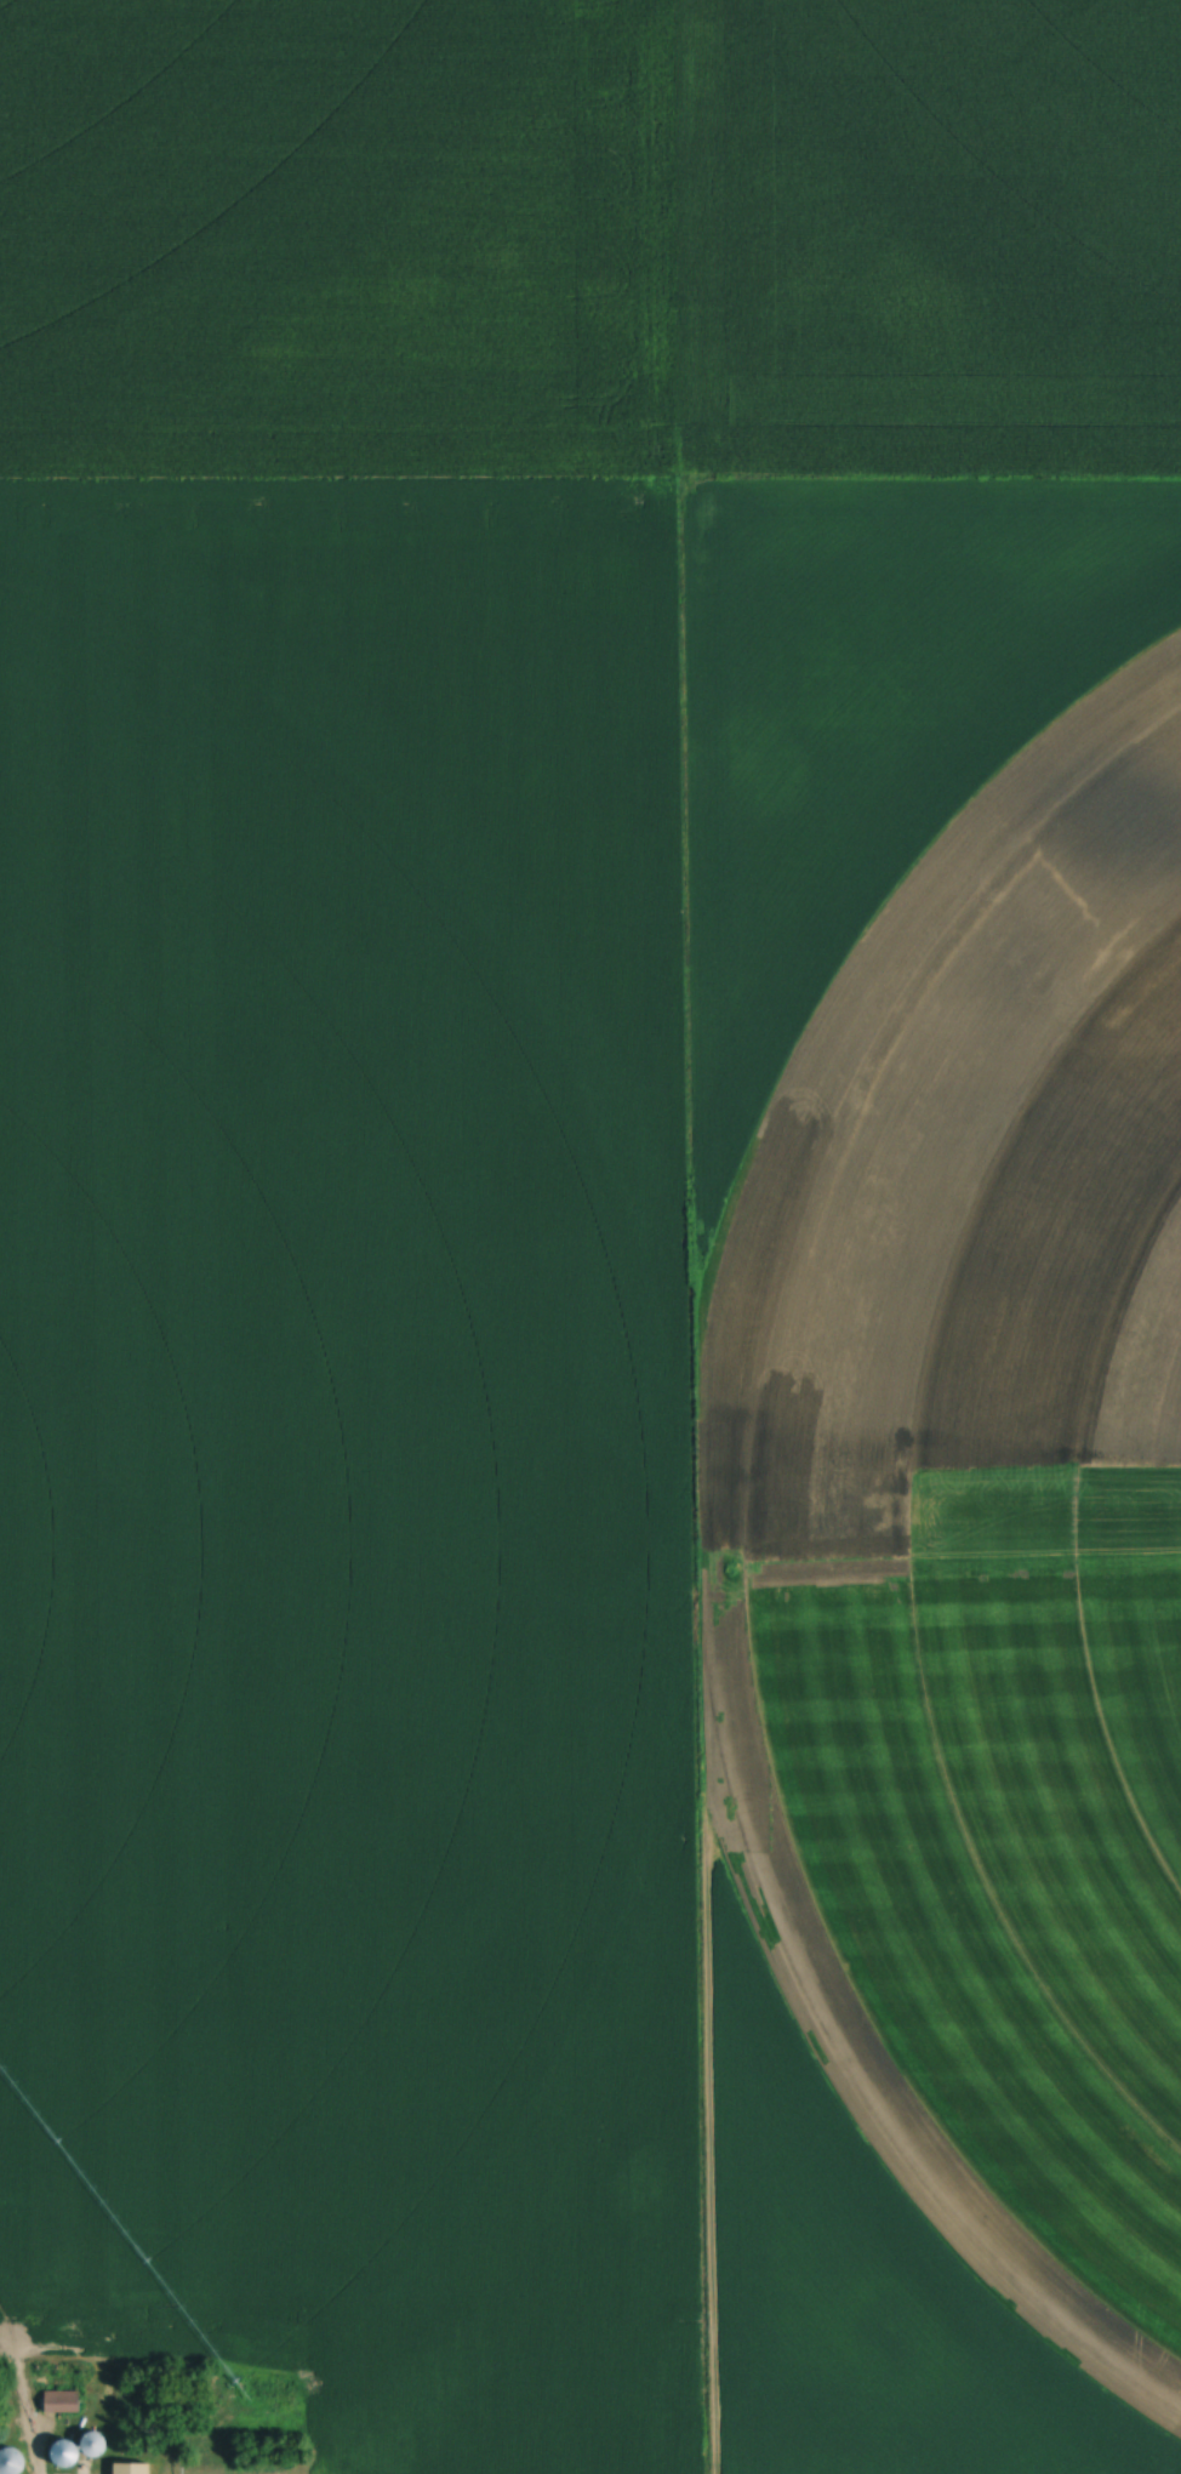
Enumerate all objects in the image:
building: (53, 2202)
building: (63, 2405)
building: (70, 2453)
building: (12, 2461)
building: (133, 2468)

